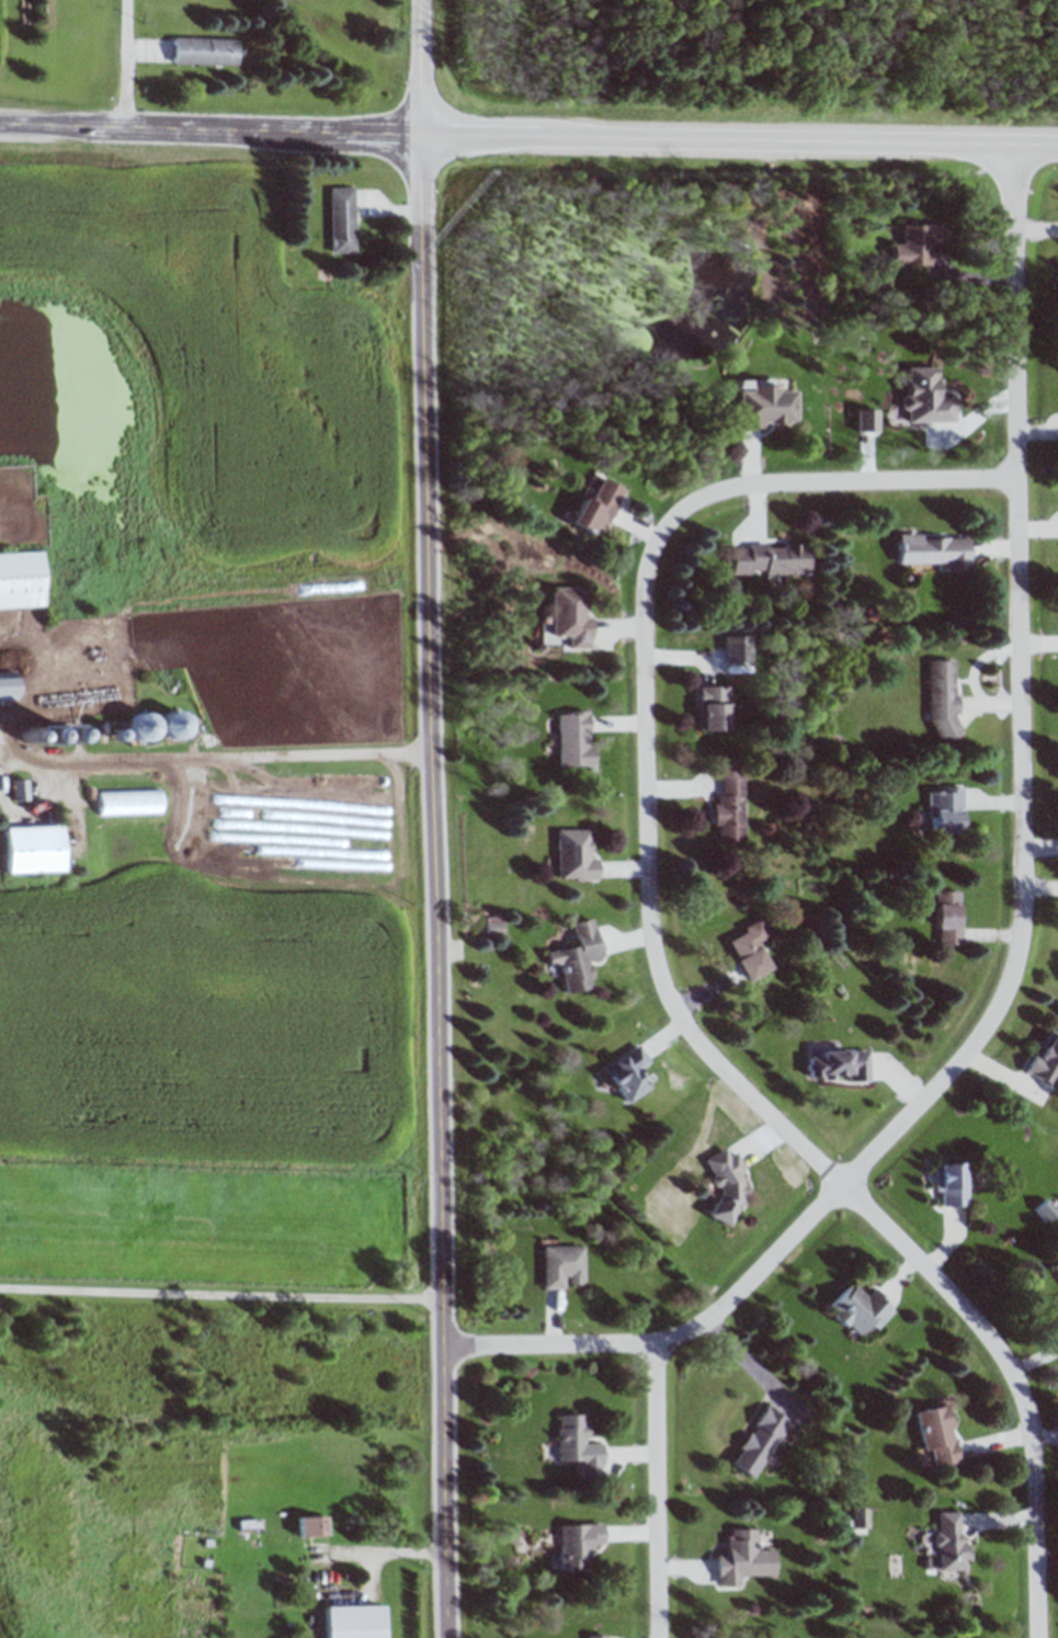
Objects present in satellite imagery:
building: (204, 50)
road: (528, 137)
building: (342, 219)
building: (919, 243)
building: (766, 406)
crop: (244, 429)
building: (596, 507)
building: (936, 550)
building: (772, 558)
building: (21, 580)
building: (571, 616)
building: (8, 686)
building: (943, 698)
road: (648, 705)
building: (715, 708)
building: (178, 726)
building: (145, 727)
building: (576, 738)
road: (216, 755)
building: (20, 789)
building: (730, 800)
building: (130, 804)
building: (945, 809)
road: (434, 819)
building: (34, 849)
building: (574, 855)
building: (948, 917)
road: (1023, 924)
building: (749, 949)
building: (578, 956)
crop: (212, 1010)
building: (1046, 1060)
building: (839, 1065)
building: (627, 1073)
building: (953, 1183)
building: (727, 1185)
building: (1047, 1209)
building: (561, 1266)
building: (1055, 1269)
road: (223, 1289)
building: (858, 1309)
road: (1015, 1379)
building: (936, 1436)
building: (759, 1441)
building: (578, 1445)
road: (659, 1489)
building: (858, 1517)
building: (314, 1526)
building: (947, 1540)
building: (577, 1544)
building: (740, 1556)
building: (354, 1620)
building: (596, 1636)

